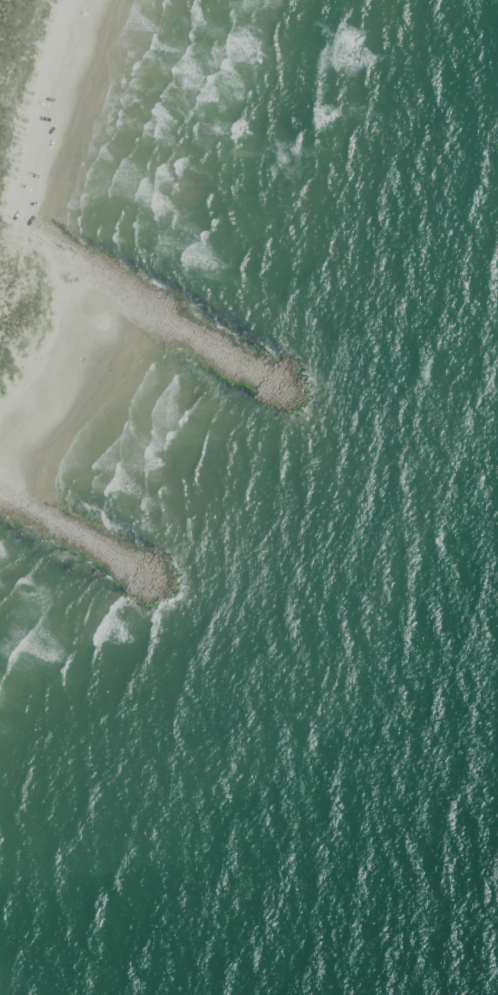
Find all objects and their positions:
road: (63, 89)
park: (139, 174)
park: (39, 625)

